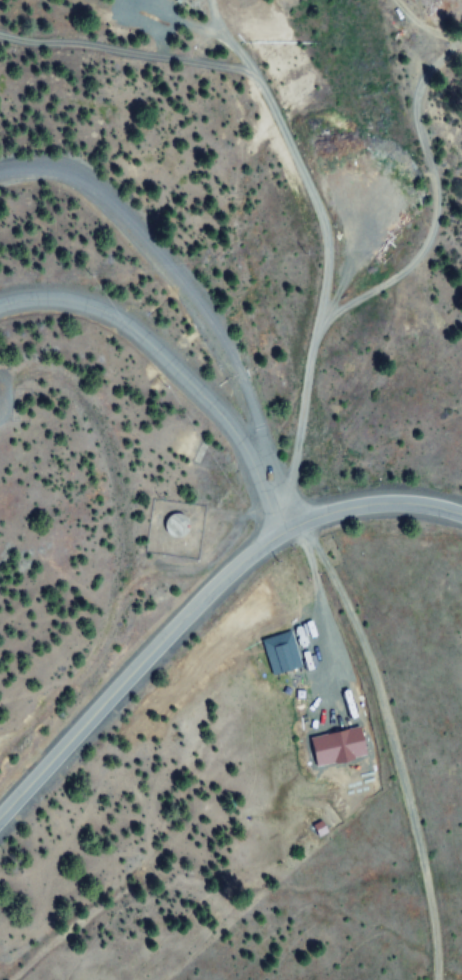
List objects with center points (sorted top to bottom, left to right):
road: (422, 27)
road: (128, 51)
road: (438, 206)
road: (326, 224)
road: (183, 280)
road: (176, 364)
building: (177, 524)
road: (202, 606)
building: (282, 654)
road: (392, 743)

